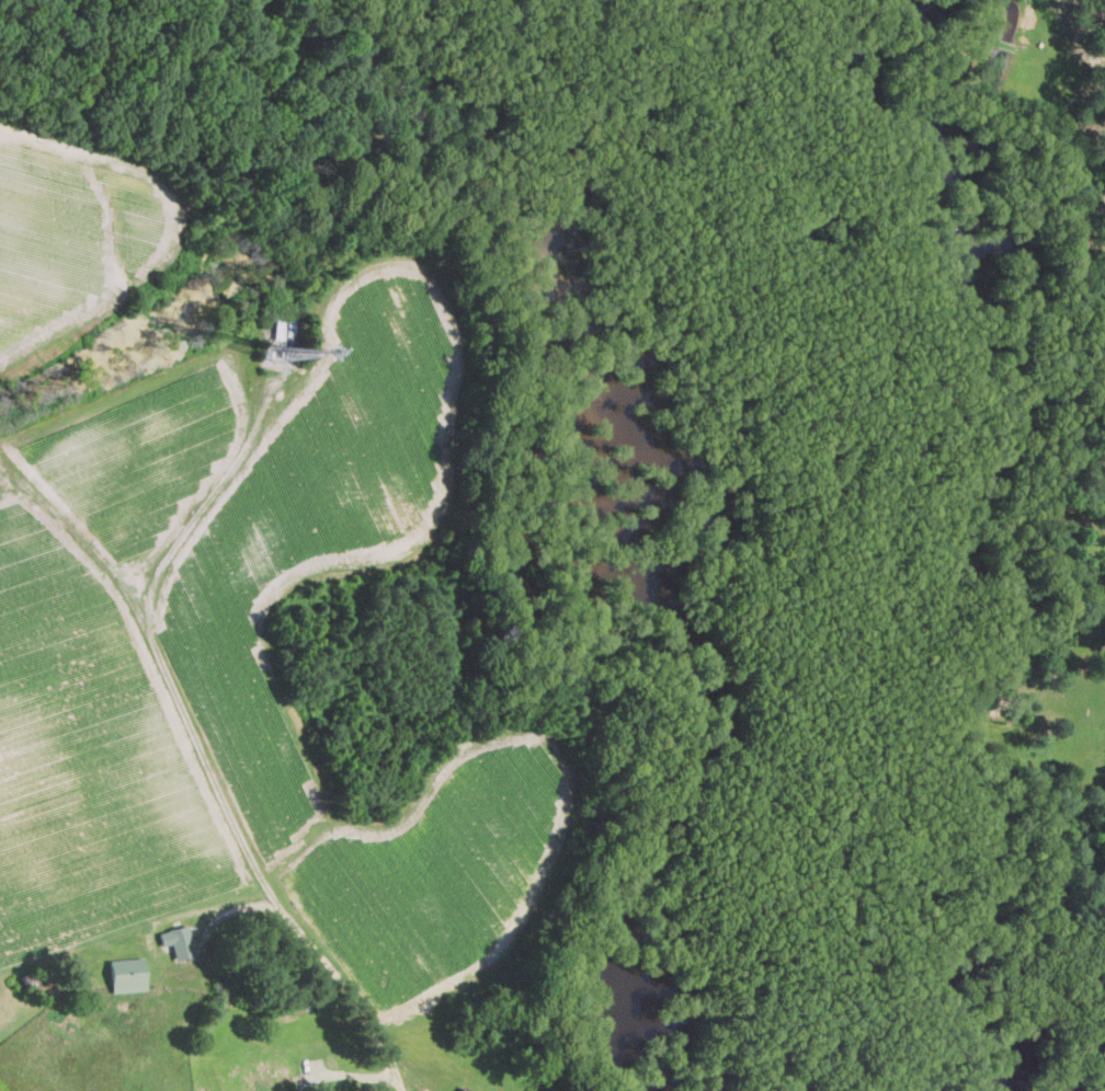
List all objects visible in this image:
road: (205, 760)
building: (176, 940)
building: (125, 974)
building: (264, 1079)
building: (460, 1089)

